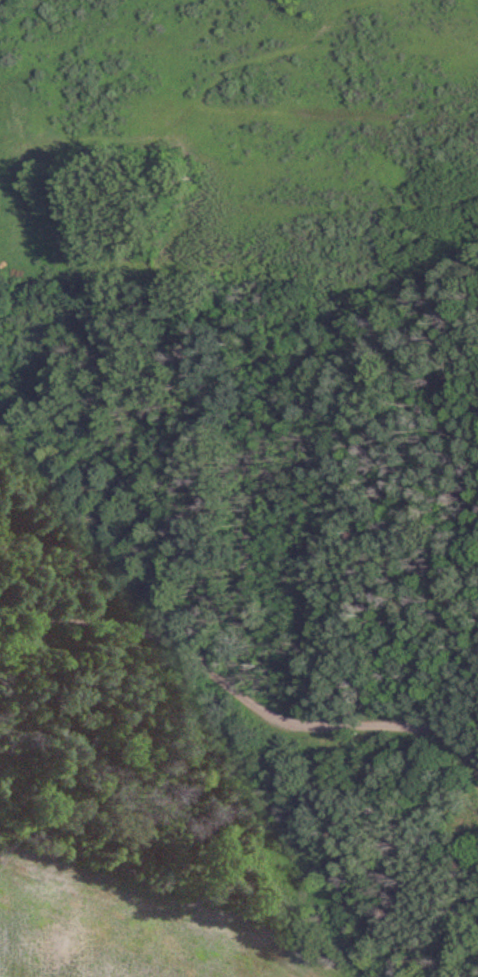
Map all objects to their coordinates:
road: (237, 690)

